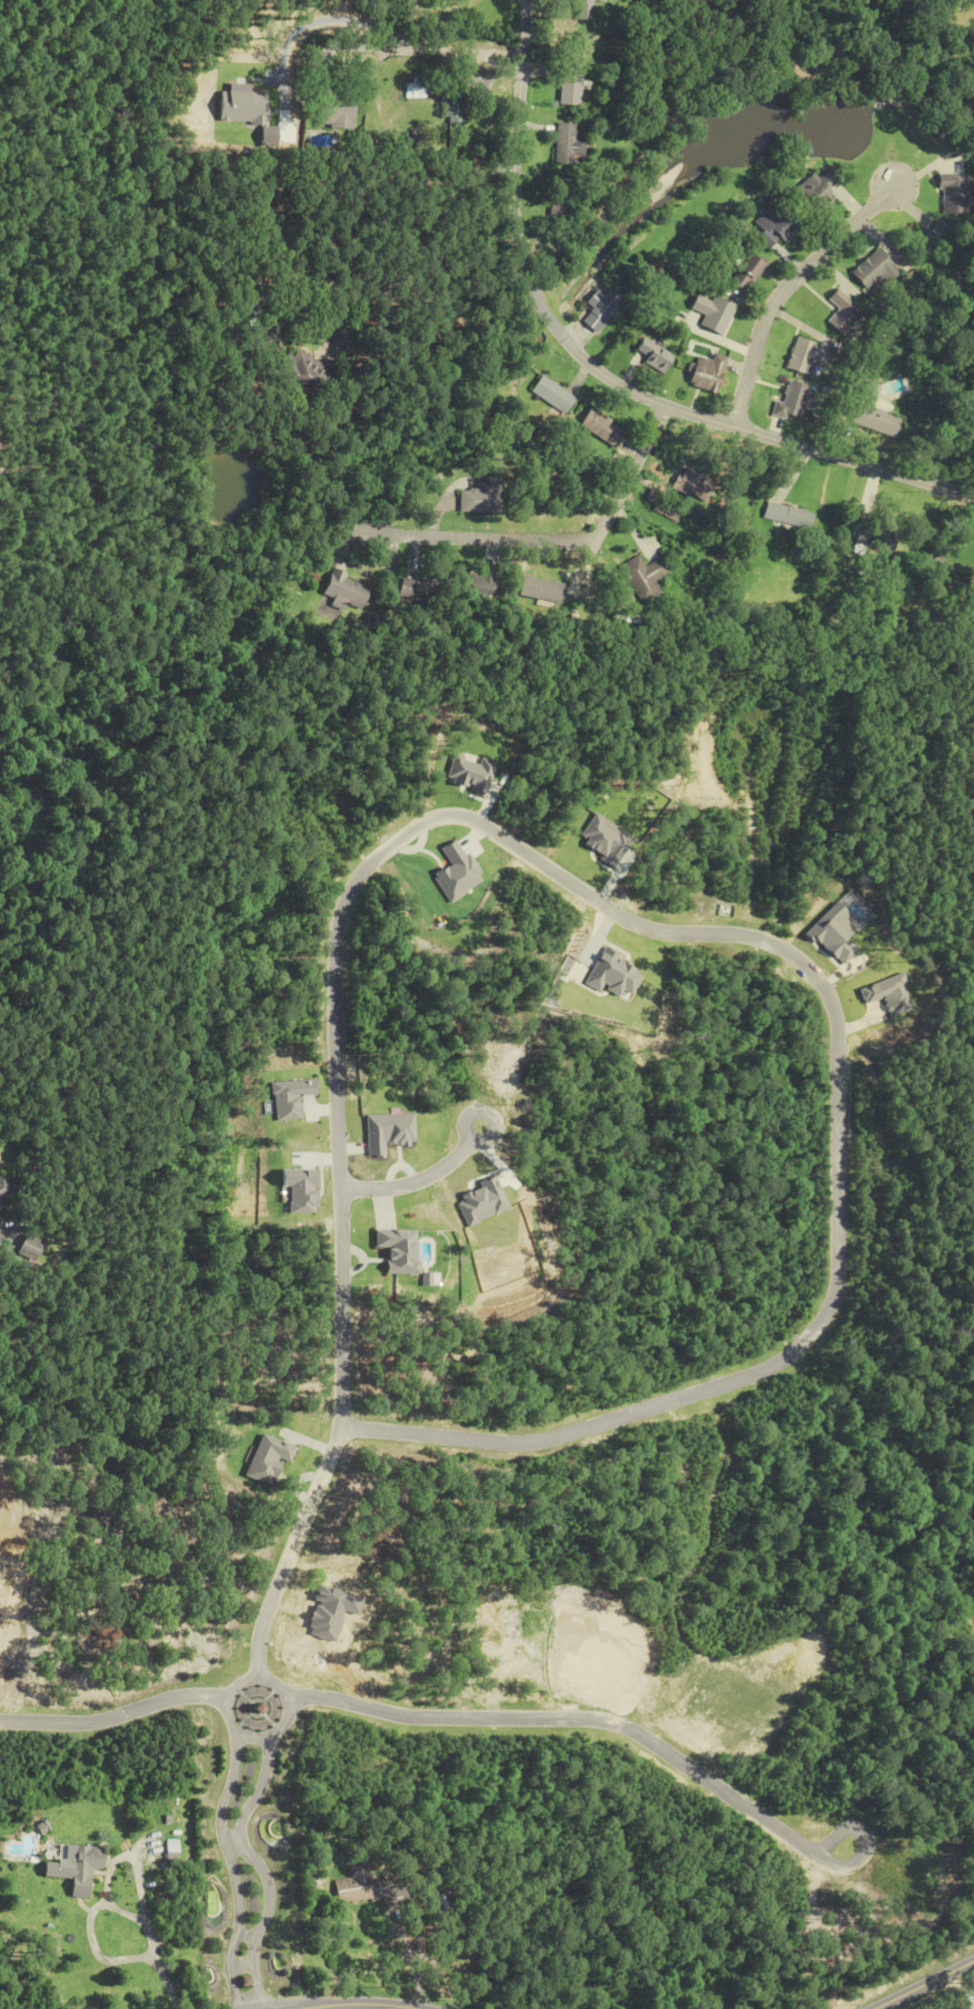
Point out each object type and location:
building: (582, 9)
road: (378, 48)
building: (569, 80)
building: (414, 88)
building: (449, 107)
building: (332, 109)
building: (566, 144)
building: (817, 189)
building: (952, 193)
building: (557, 200)
building: (774, 225)
building: (929, 239)
road: (390, 262)
building: (653, 269)
building: (747, 272)
road: (784, 290)
building: (599, 309)
building: (842, 312)
building: (713, 313)
building: (654, 355)
building: (805, 357)
road: (597, 369)
building: (302, 371)
building: (707, 373)
building: (549, 394)
building: (794, 401)
building: (872, 412)
building: (601, 428)
building: (692, 483)
building: (481, 497)
building: (663, 506)
building: (787, 516)
road: (556, 541)
building: (875, 541)
building: (643, 577)
building: (478, 583)
building: (414, 589)
building: (540, 589)
building: (345, 592)
road: (598, 905)
road: (446, 1160)
building: (1, 1191)
building: (0, 1209)
building: (26, 1247)
road: (232, 1695)
road: (115, 1722)
road: (634, 1733)
building: (173, 1855)
building: (77, 1869)
road: (262, 1869)
road: (236, 1872)
road: (108, 1880)
building: (359, 1888)
road: (127, 1911)
road: (409, 1954)
road: (170, 1983)
road: (925, 1984)
road: (367, 2005)

